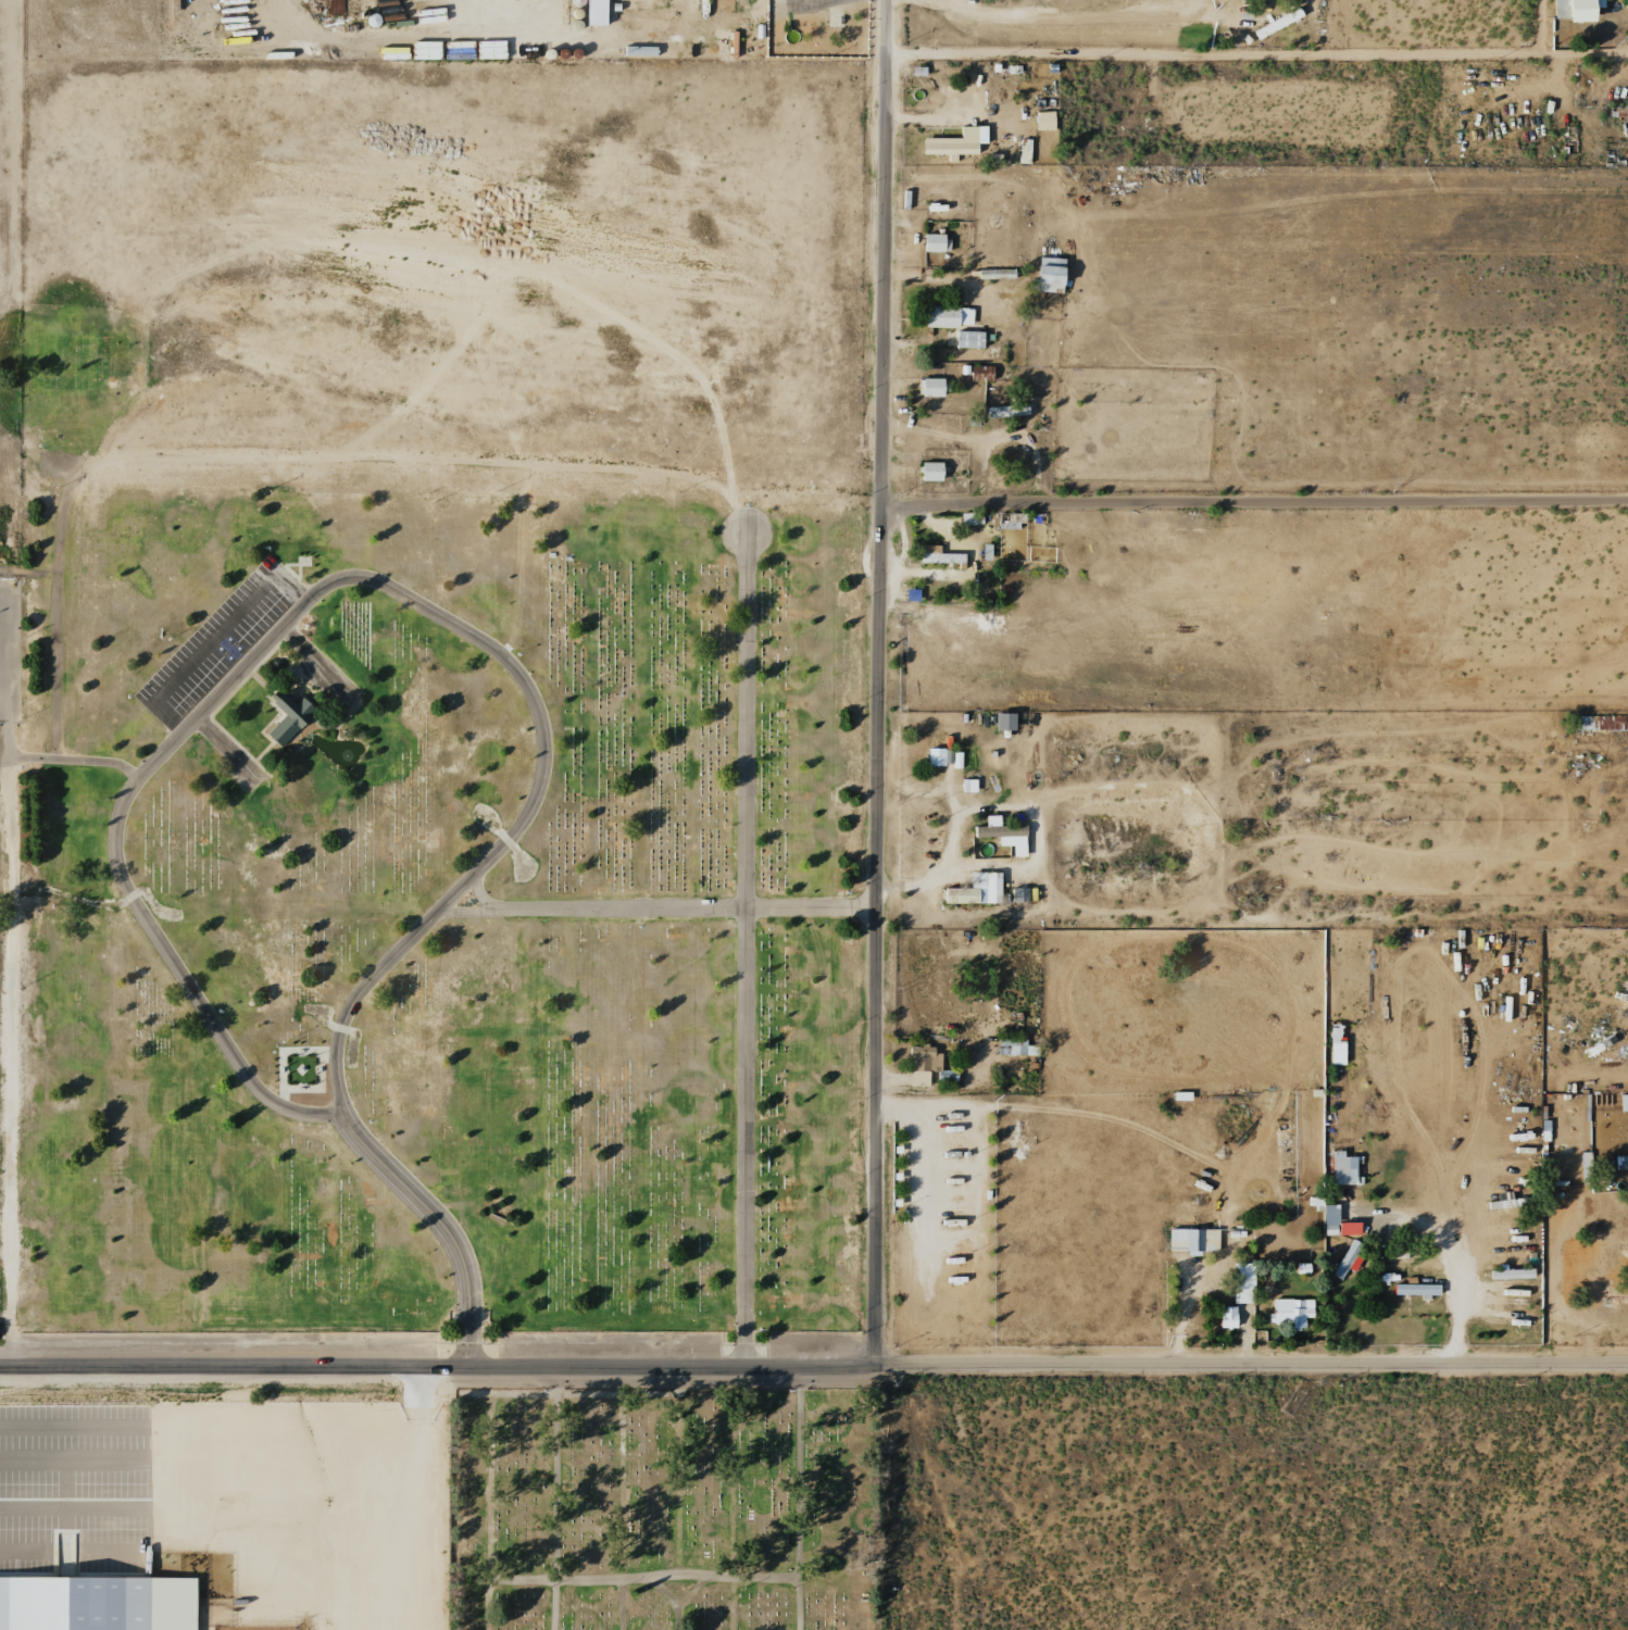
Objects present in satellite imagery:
building: (719, 5)
building: (1574, 9)
building: (593, 12)
building: (1276, 23)
road: (1251, 55)
building: (1043, 121)
building: (954, 143)
building: (1024, 151)
building: (935, 242)
building: (1048, 274)
building: (944, 316)
building: (968, 339)
building: (930, 387)
building: (1005, 410)
building: (929, 471)
road: (1255, 498)
building: (969, 518)
building: (937, 554)
road: (335, 581)
road: (881, 682)
building: (287, 717)
building: (1003, 720)
building: (943, 757)
building: (967, 786)
building: (1002, 835)
building: (975, 889)
building: (1018, 894)
road: (475, 896)
road: (655, 911)
road: (746, 948)
building: (1335, 1043)
building: (1015, 1048)
building: (921, 1064)
building: (1623, 1103)
building: (1342, 1170)
building: (1325, 1215)
road: (437, 1226)
building: (1347, 1228)
building: (1191, 1240)
building: (1347, 1259)
building: (1240, 1282)
building: (1415, 1290)
building: (1290, 1313)
building: (1226, 1317)
road: (1529, 1364)
road: (1153, 1365)
road: (438, 1367)
road: (800, 1497)
road: (556, 1499)
park: (664, 1509)
road: (646, 1578)
road: (664, 1592)
road: (692, 1592)
building: (96, 1604)
road: (680, 1618)

